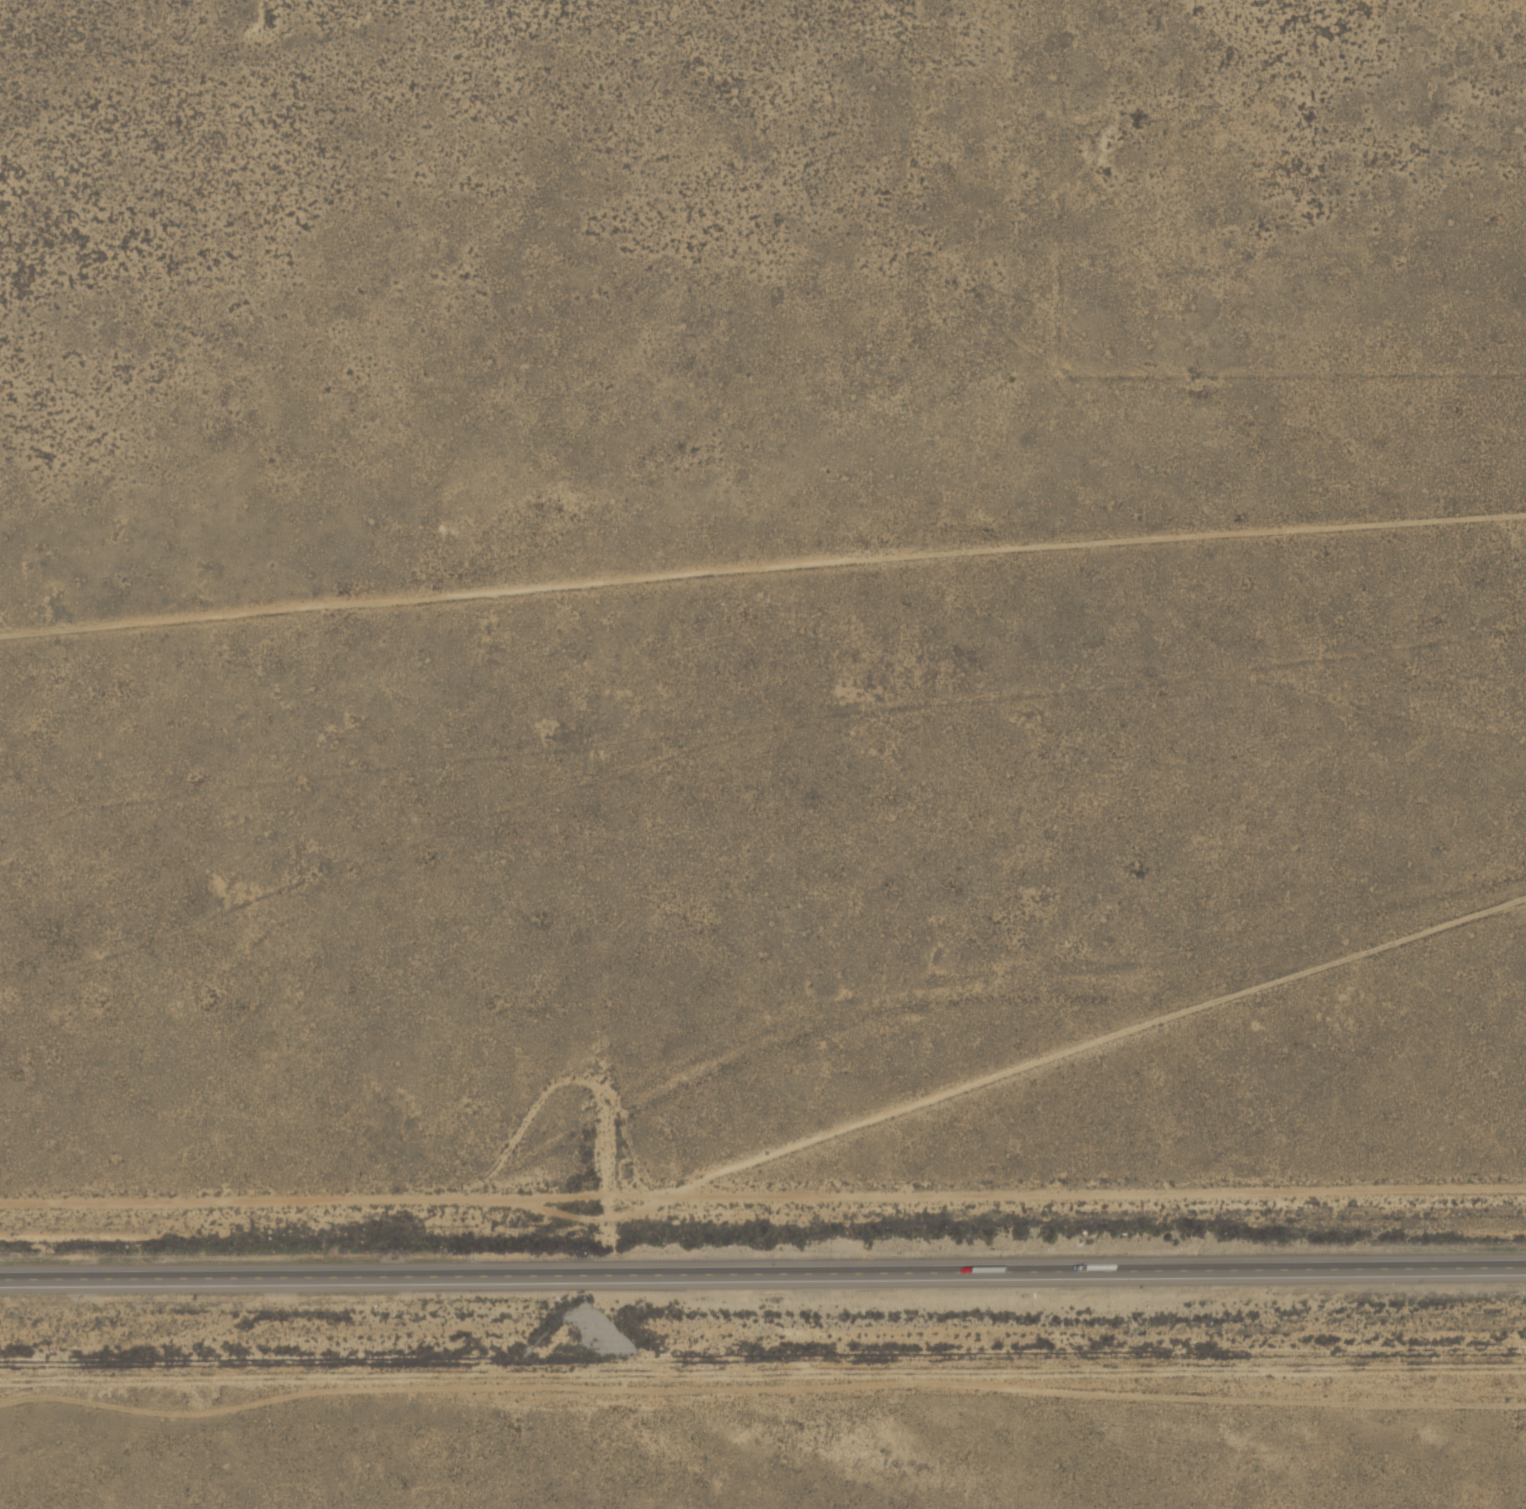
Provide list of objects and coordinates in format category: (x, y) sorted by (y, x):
road: (763, 1273)
road: (14, 1401)

